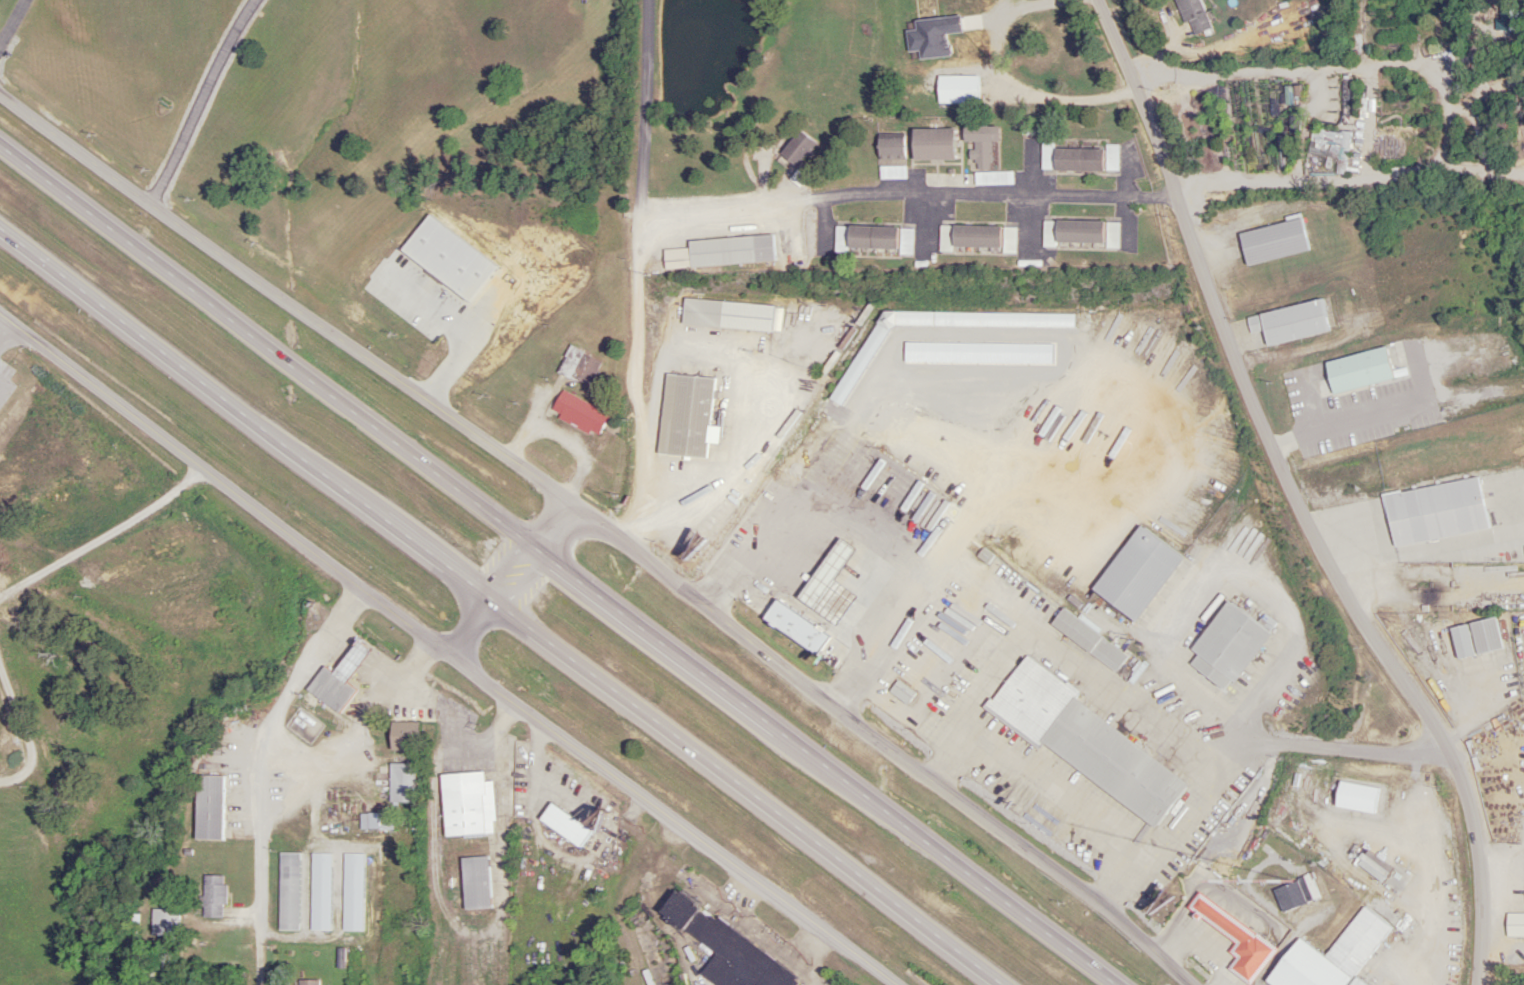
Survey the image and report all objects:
building: (1193, 16)
road: (13, 22)
building: (1003, 24)
building: (957, 90)
road: (1064, 101)
road: (202, 103)
building: (980, 145)
building: (1331, 147)
building: (797, 149)
building: (890, 149)
building: (1079, 159)
building: (892, 172)
road: (907, 194)
building: (1071, 233)
building: (969, 237)
building: (865, 238)
building: (905, 242)
building: (1272, 242)
building: (731, 251)
road: (635, 274)
building: (501, 289)
building: (730, 316)
building: (1288, 323)
road: (1352, 328)
road: (473, 330)
road: (265, 349)
building: (578, 366)
road: (245, 414)
building: (578, 414)
building: (685, 416)
road: (1291, 499)
road: (601, 532)
building: (825, 574)
building: (1136, 574)
building: (786, 629)
building: (1484, 637)
road: (454, 639)
building: (1088, 640)
building: (1461, 642)
building: (1227, 646)
road: (443, 653)
building: (337, 680)
building: (901, 692)
building: (402, 736)
building: (1083, 741)
road: (500, 748)
road: (819, 768)
road: (261, 774)
building: (402, 783)
road: (743, 793)
building: (466, 805)
building: (208, 807)
building: (563, 825)
building: (377, 828)
road: (599, 854)
building: (475, 882)
building: (288, 891)
building: (1295, 893)
building: (213, 896)
road: (662, 907)
building: (676, 909)
building: (164, 922)
building: (1234, 937)
building: (1357, 944)
road: (811, 955)
building: (734, 956)
building: (307, 982)

